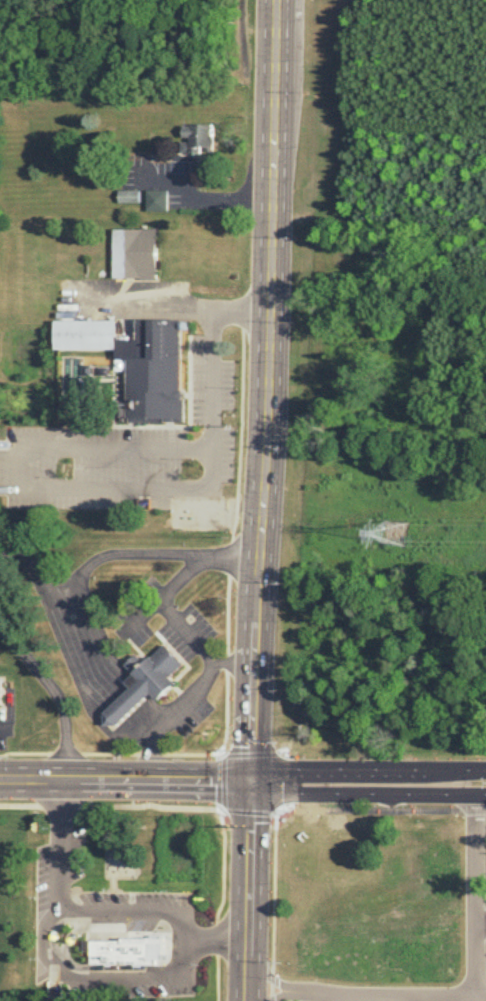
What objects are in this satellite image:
road: (240, 31)
road: (270, 98)
building: (196, 139)
road: (196, 194)
building: (130, 195)
building: (157, 199)
building: (133, 250)
road: (148, 301)
road: (241, 308)
road: (241, 318)
building: (84, 334)
building: (152, 367)
road: (239, 433)
road: (36, 444)
road: (260, 489)
power tower: (385, 531)
road: (118, 551)
road: (229, 556)
road: (165, 608)
road: (227, 614)
road: (143, 615)
road: (81, 645)
road: (226, 662)
building: (147, 682)
building: (0, 690)
road: (56, 694)
road: (183, 701)
road: (124, 707)
road: (225, 714)
road: (142, 724)
road: (3, 725)
road: (127, 755)
road: (277, 771)
road: (369, 777)
road: (126, 782)
traffic signals: (253, 783)
road: (222, 785)
road: (369, 792)
road: (126, 812)
road: (368, 812)
road: (58, 844)
road: (250, 891)
road: (273, 891)
road: (473, 900)
road: (218, 907)
road: (70, 935)
road: (217, 940)
building: (119, 948)
road: (65, 960)
road: (174, 975)
road: (272, 978)
road: (272, 984)
road: (279, 995)
road: (313, 996)
road: (360, 997)

